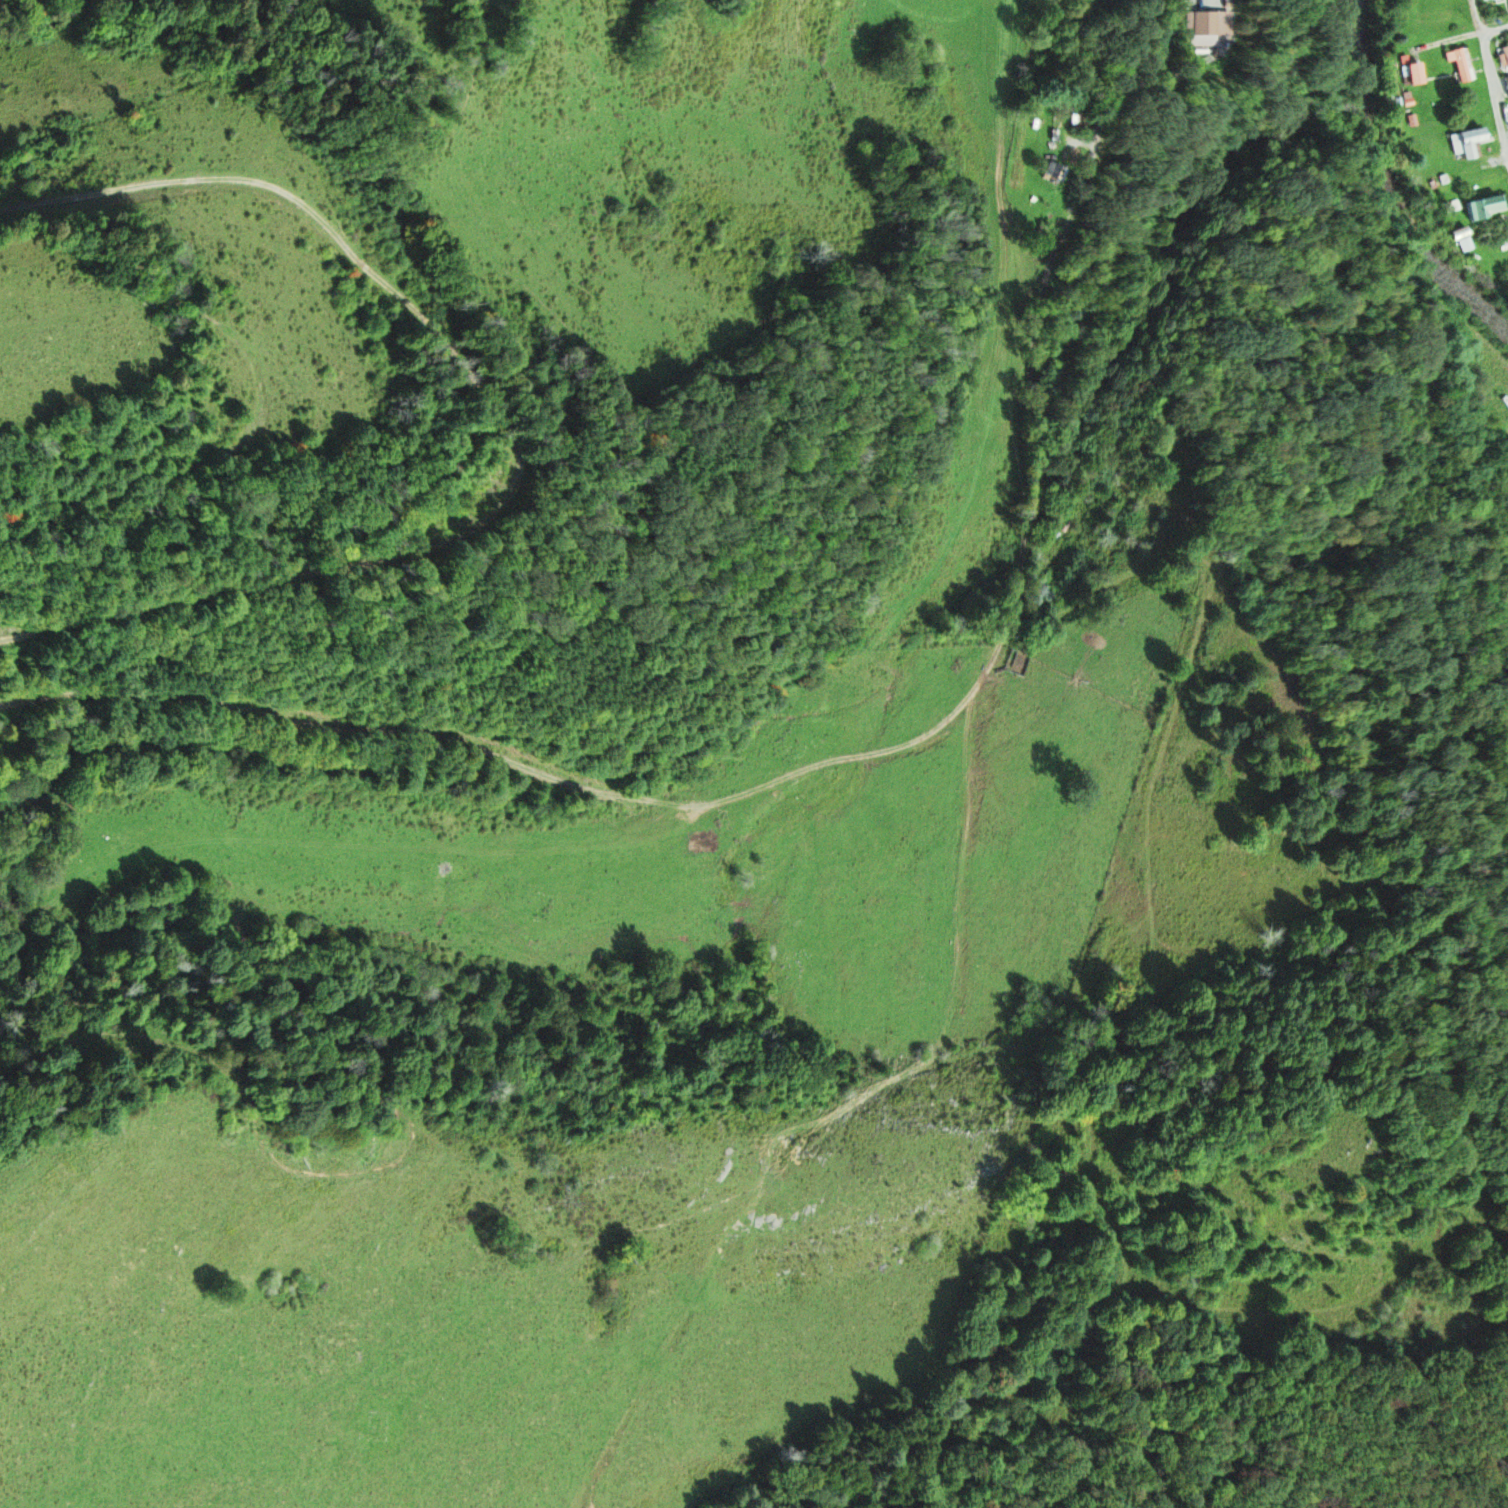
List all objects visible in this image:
building: (1485, 0)
building: (1202, 29)
road: (1495, 30)
building: (1503, 57)
building: (1460, 63)
building: (1413, 74)
road: (1491, 79)
building: (1506, 84)
building: (1467, 143)
building: (1050, 172)
river: (1400, 186)
building: (1485, 207)
road: (1068, 339)
road: (508, 421)
road: (510, 761)

